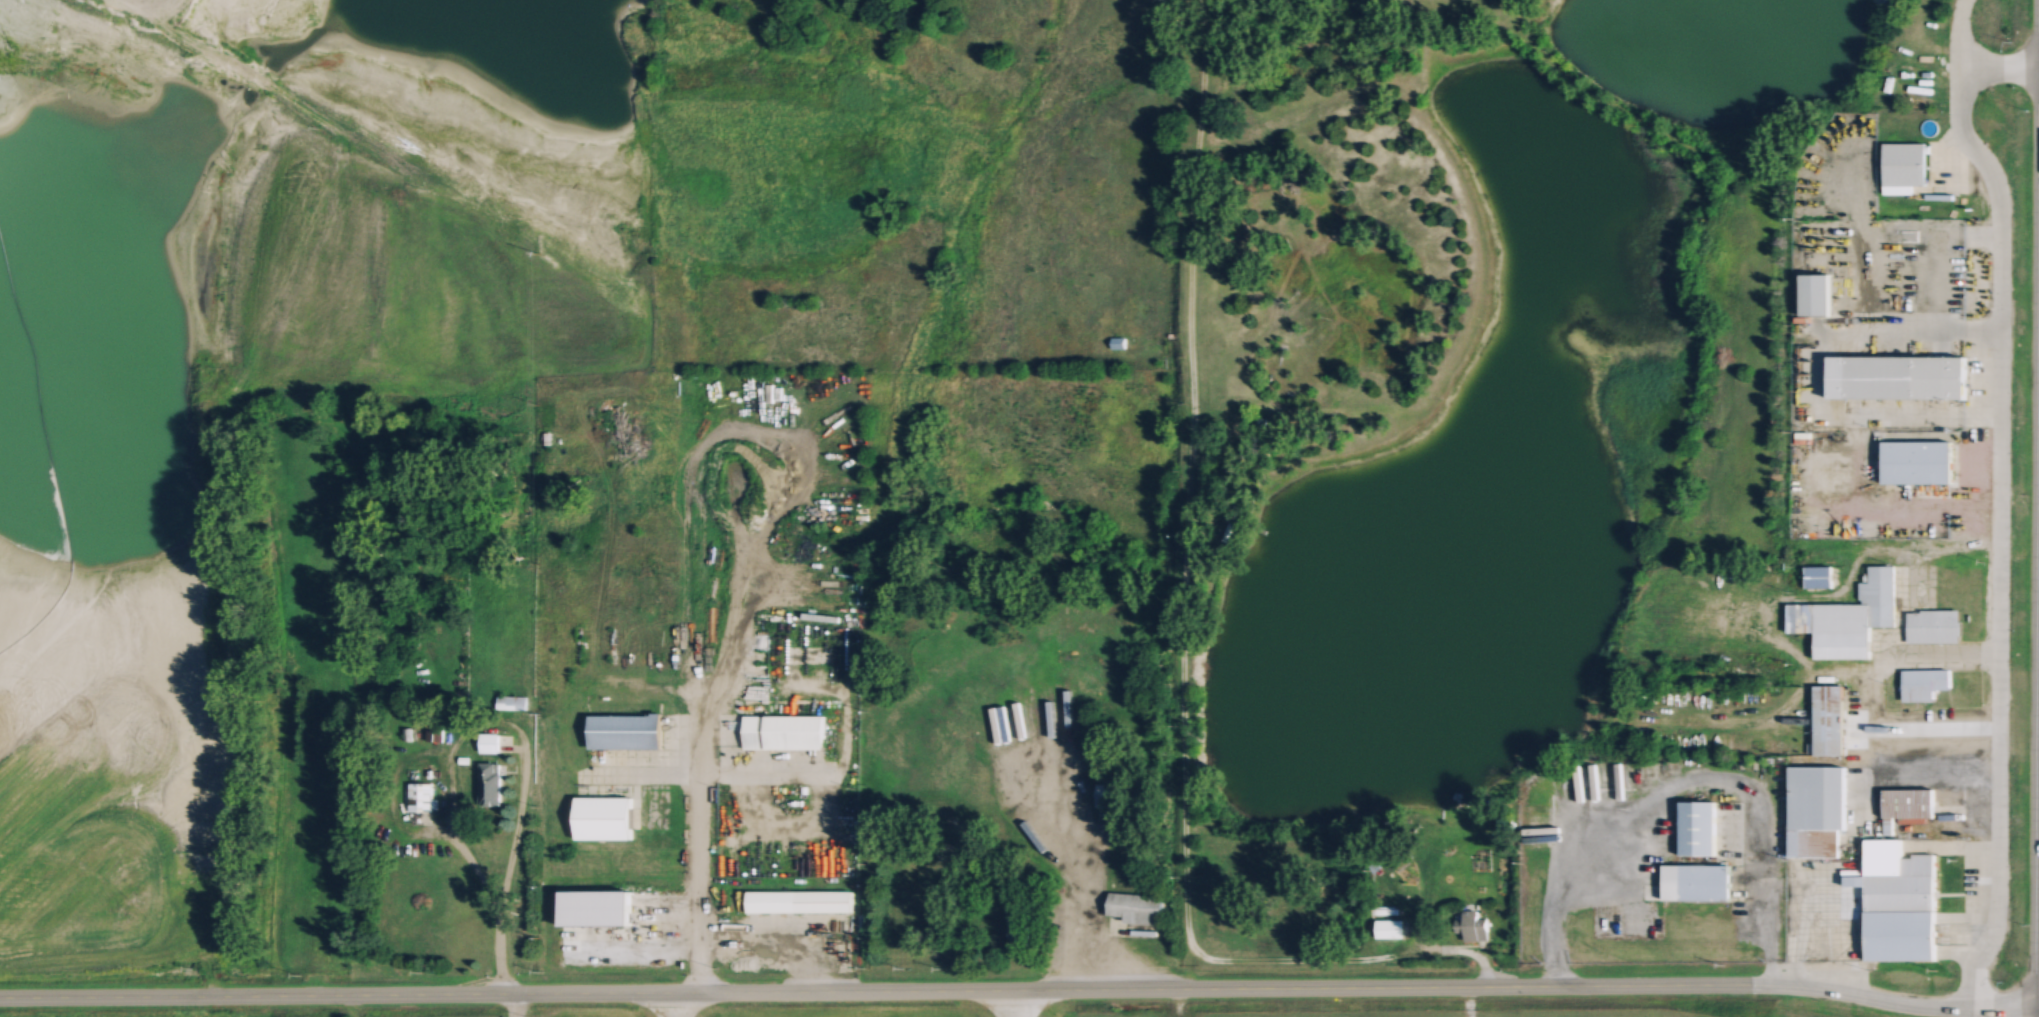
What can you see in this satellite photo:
road: (1998, 63)
building: (1904, 166)
building: (1817, 293)
building: (1115, 342)
building: (1898, 376)
building: (1917, 460)
road: (2000, 501)
building: (1817, 575)
building: (1847, 617)
building: (1932, 625)
road: (1183, 639)
building: (1922, 683)
building: (510, 702)
building: (1828, 719)
building: (624, 731)
building: (784, 731)
building: (489, 742)
road: (701, 771)
road: (703, 773)
building: (489, 783)
building: (420, 797)
building: (1906, 806)
building: (1815, 810)
building: (603, 818)
building: (1696, 828)
road: (457, 840)
building: (1696, 883)
building: (799, 901)
building: (1898, 902)
building: (1135, 907)
building: (1474, 926)
building: (1390, 928)
road: (783, 931)
building: (1018, 932)
road: (502, 959)
road: (1020, 991)
road: (1467, 1001)
road: (1175, 1002)
airport: (1054, 1009)

